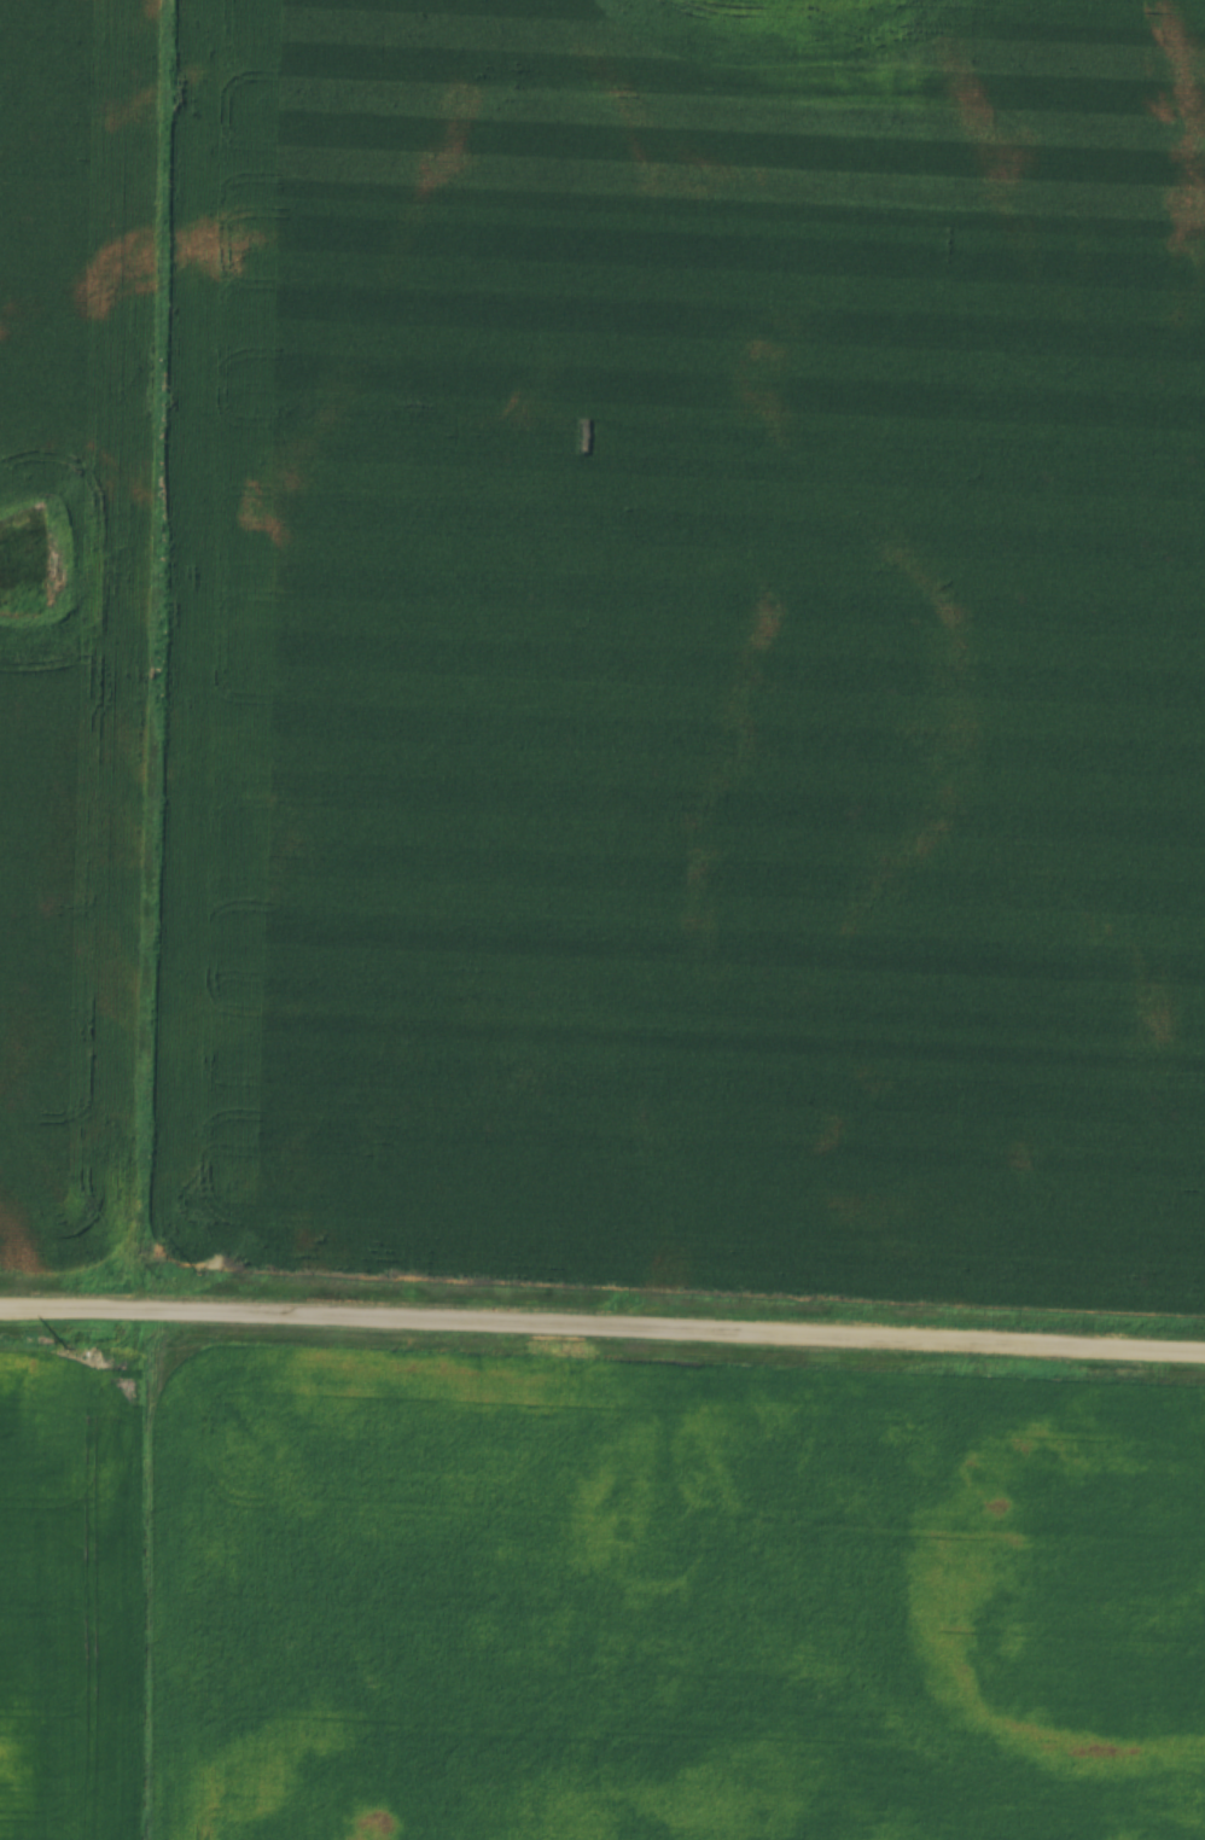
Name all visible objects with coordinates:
road: (602, 1328)
crop: (671, 1600)

